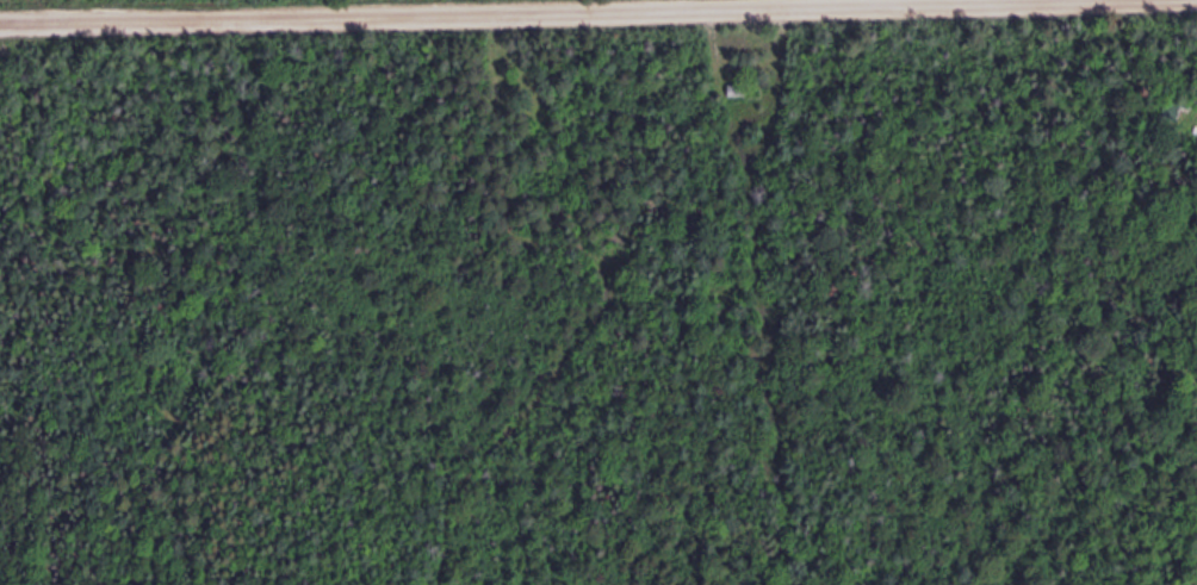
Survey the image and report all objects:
road: (564, 12)

